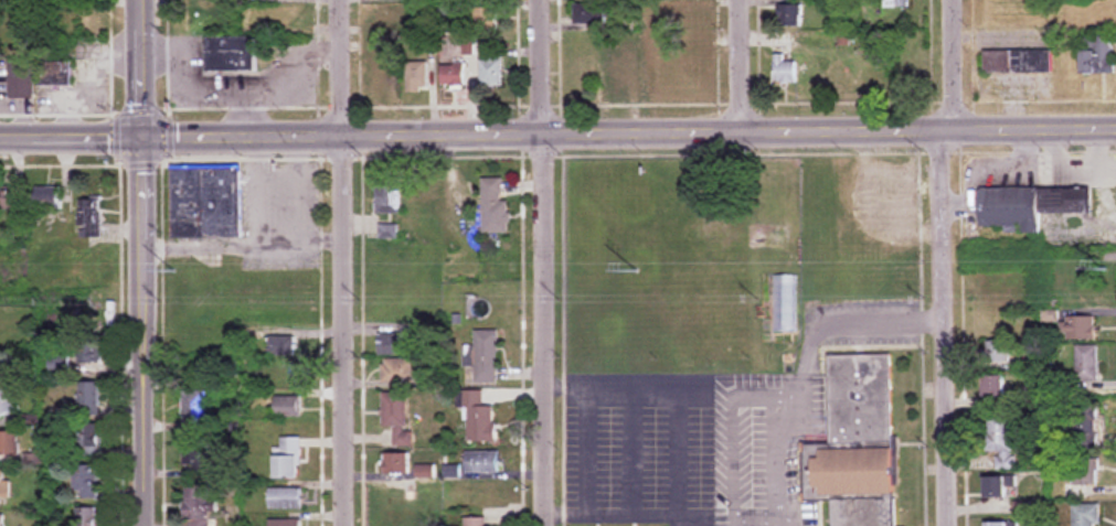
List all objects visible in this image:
building: (896, 3)
building: (589, 13)
building: (392, 14)
building: (790, 15)
building: (681, 17)
building: (486, 19)
building: (2, 31)
building: (231, 55)
building: (1098, 55)
building: (1017, 62)
building: (683, 65)
road: (737, 66)
road: (141, 68)
building: (490, 68)
building: (785, 69)
building: (386, 71)
building: (615, 73)
building: (56, 74)
building: (416, 76)
building: (451, 76)
building: (21, 78)
road: (628, 133)
road: (71, 137)
traffic signals: (142, 137)
building: (425, 186)
building: (465, 194)
building: (50, 196)
building: (386, 196)
building: (11, 198)
building: (899, 201)
building: (1064, 201)
building: (205, 203)
building: (493, 207)
building: (1010, 210)
building: (411, 217)
building: (91, 219)
building: (385, 232)
road: (252, 244)
road: (942, 261)
road: (339, 262)
road: (541, 262)
building: (1080, 329)
road: (142, 331)
building: (391, 345)
building: (281, 346)
building: (89, 351)
building: (998, 352)
building: (482, 357)
building: (1087, 363)
road: (803, 367)
building: (60, 369)
building: (398, 371)
building: (995, 387)
building: (89, 395)
building: (6, 405)
building: (288, 407)
building: (194, 411)
building: (397, 418)
building: (479, 420)
road: (583, 428)
building: (1088, 429)
building: (91, 440)
building: (1001, 440)
building: (8, 443)
building: (857, 444)
building: (196, 459)
building: (289, 459)
building: (481, 463)
building: (396, 464)
building: (1083, 479)
building: (88, 482)
building: (1000, 486)
building: (2, 487)
building: (287, 498)
building: (198, 505)
road: (631, 515)
building: (1087, 515)
building: (87, 516)
building: (1, 520)
building: (287, 522)
building: (474, 522)
building: (998, 524)

